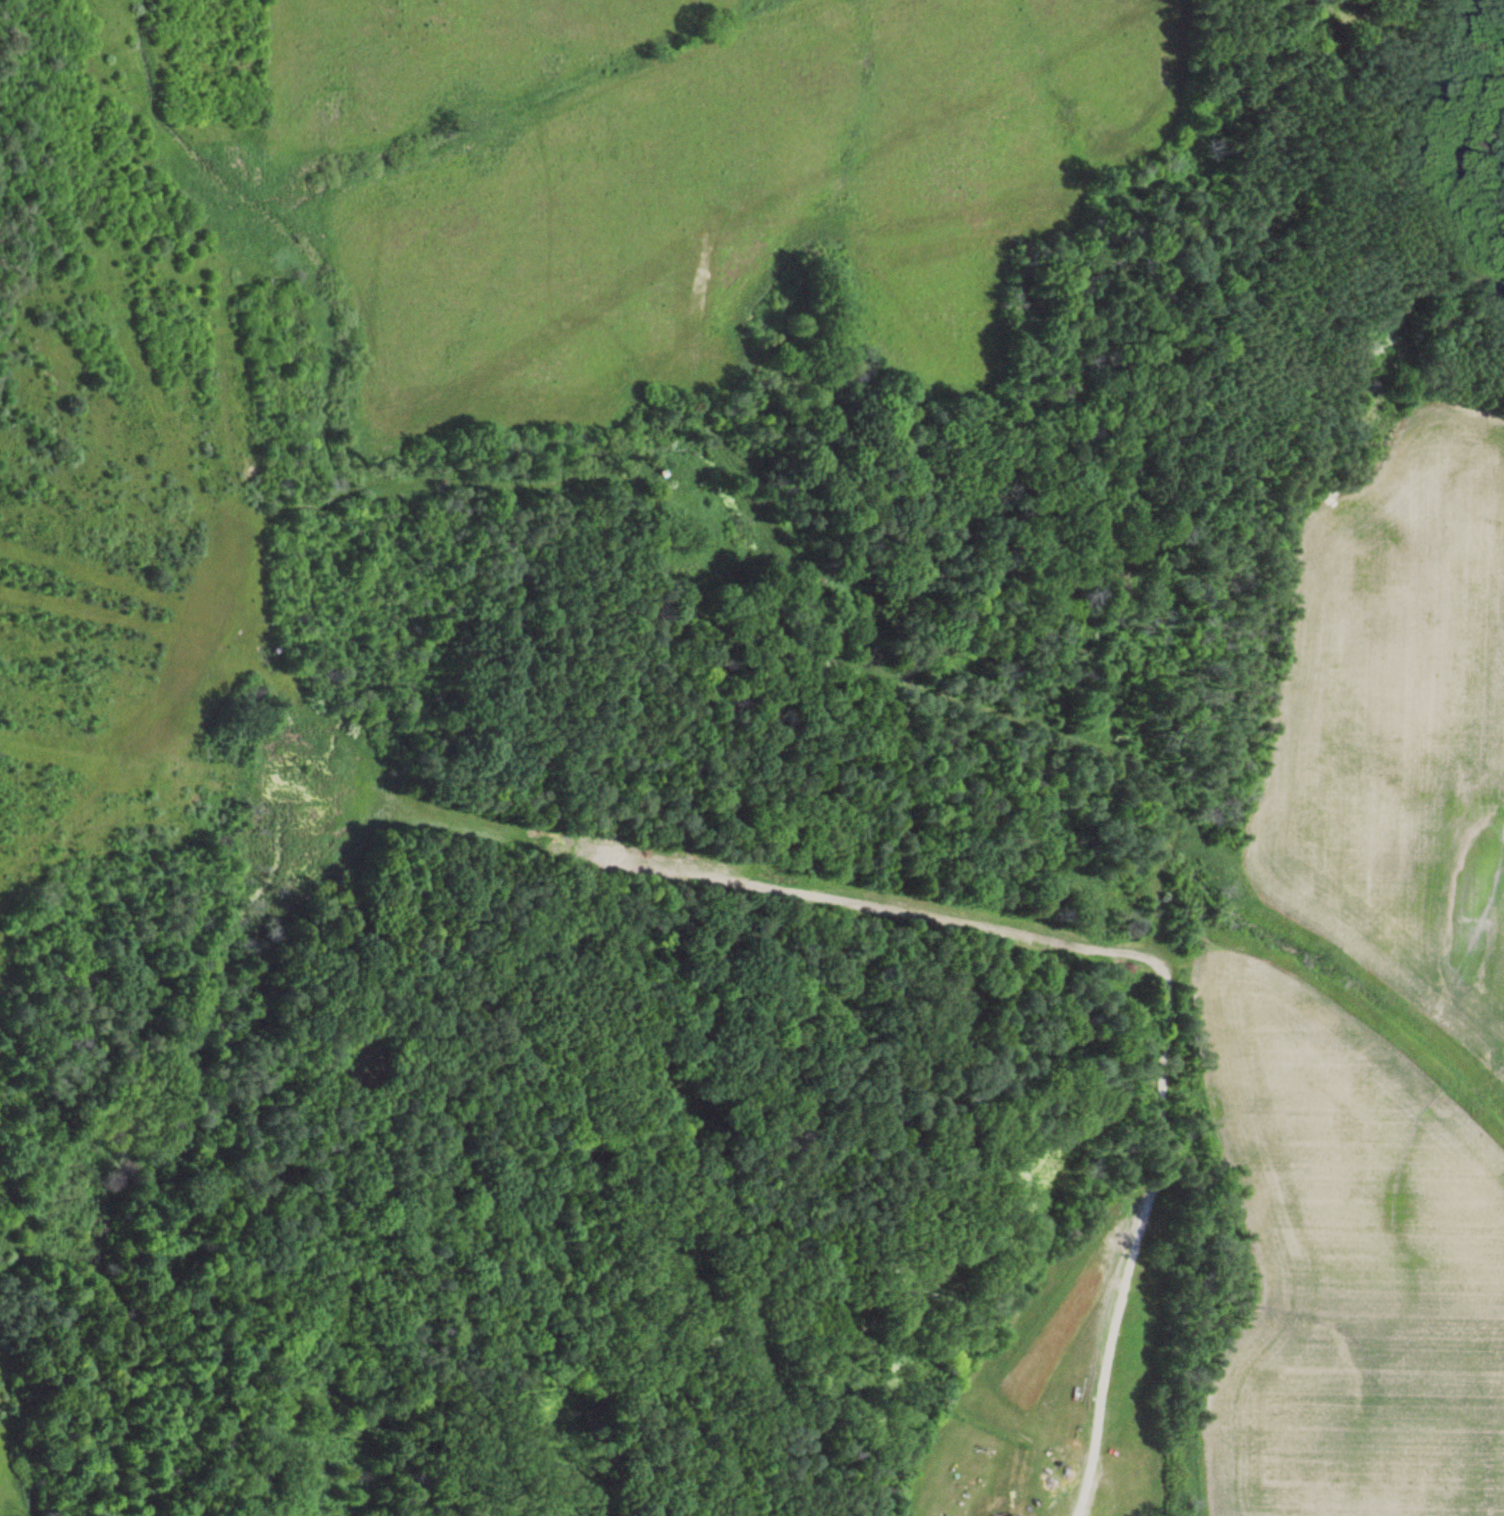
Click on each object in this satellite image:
building: (1003, 1515)

